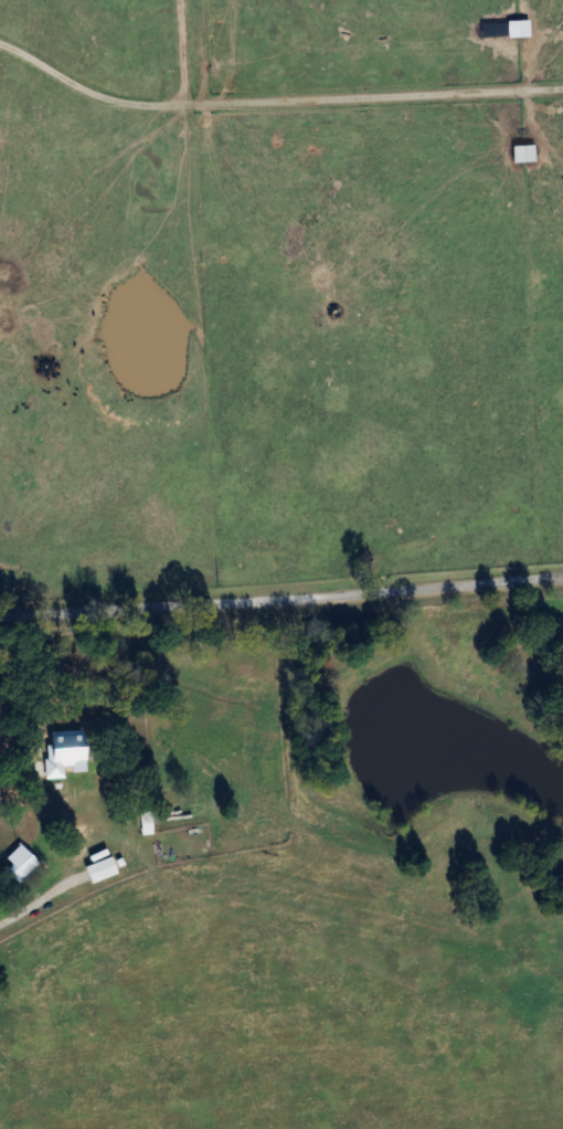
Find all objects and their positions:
building: (514, 30)
building: (520, 155)
road: (281, 597)
building: (97, 872)
road: (38, 903)
road: (231, 1068)

